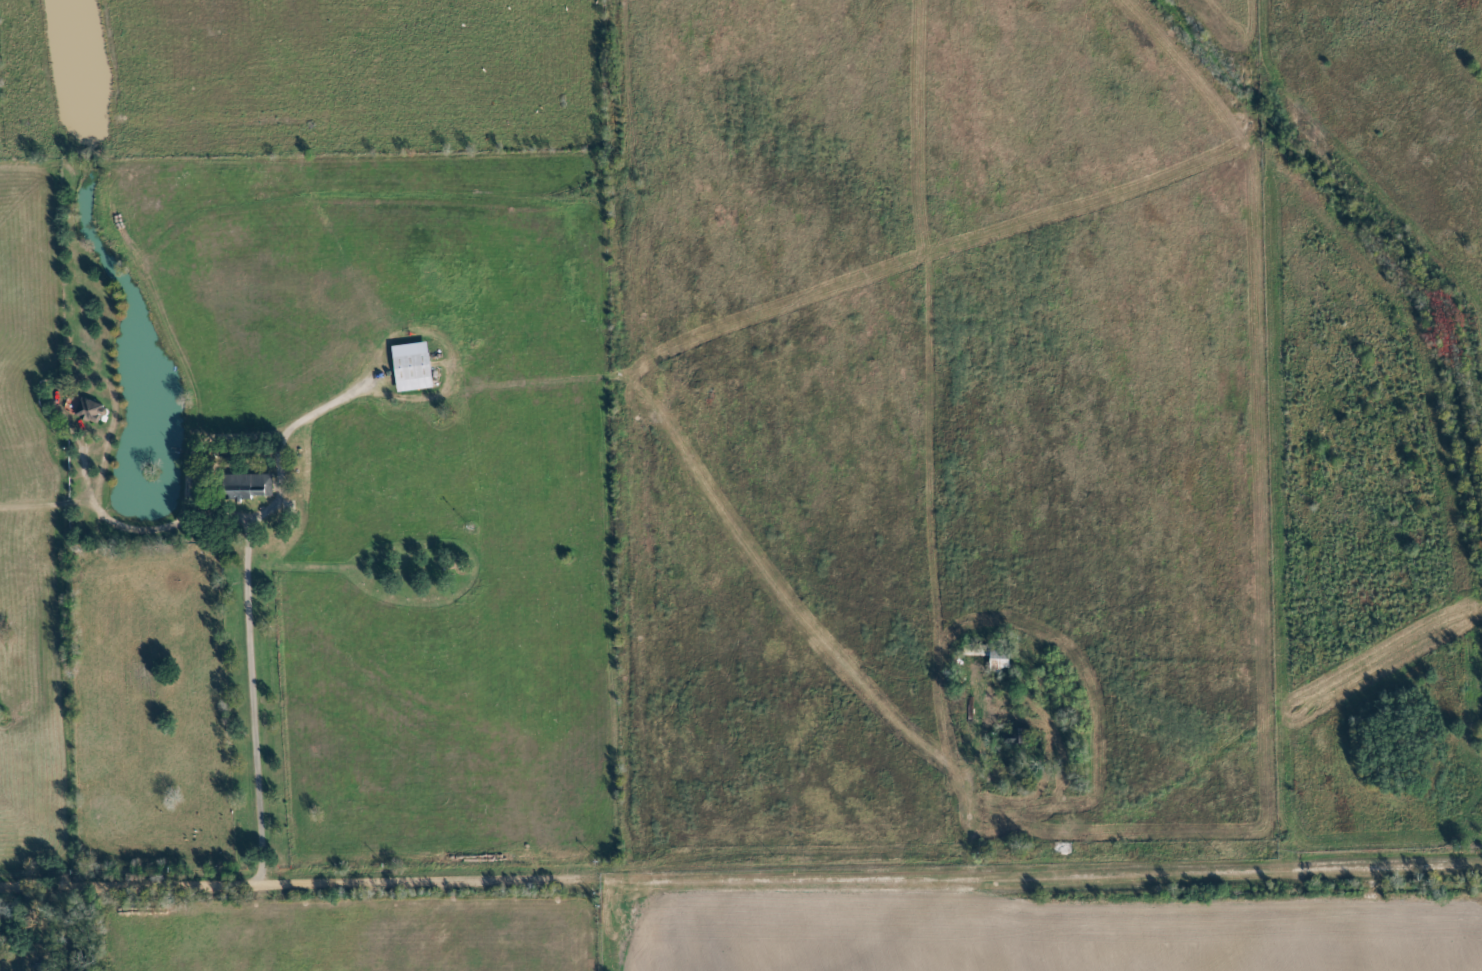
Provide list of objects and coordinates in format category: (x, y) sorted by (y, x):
building: (415, 366)
building: (93, 410)
road: (277, 457)
building: (254, 485)
road: (256, 699)
road: (973, 822)
road: (741, 872)

